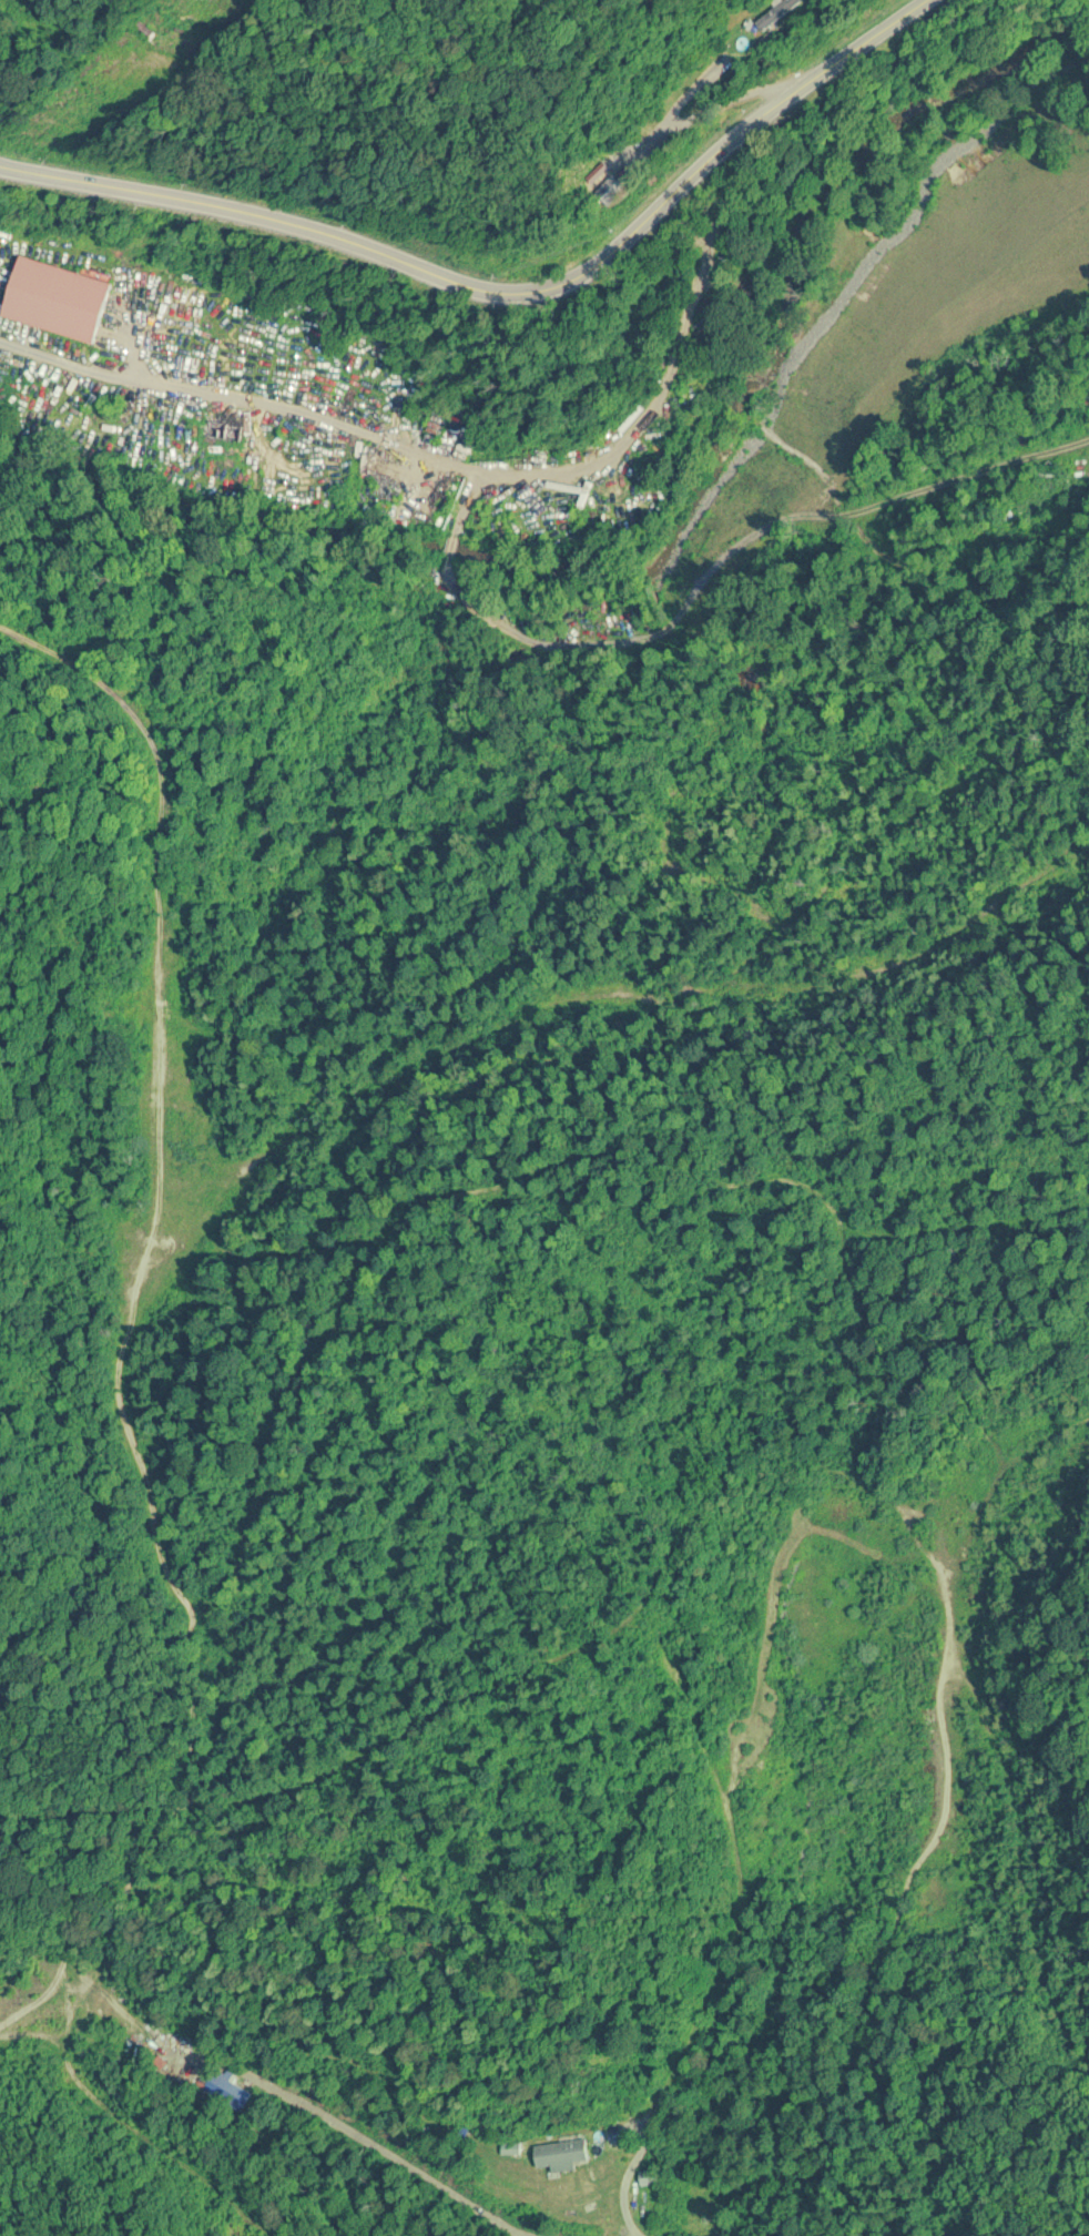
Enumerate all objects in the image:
building: (773, 13)
road: (710, 112)
building: (607, 191)
road: (505, 292)
building: (55, 298)
road: (672, 364)
building: (228, 2092)
building: (560, 2155)

